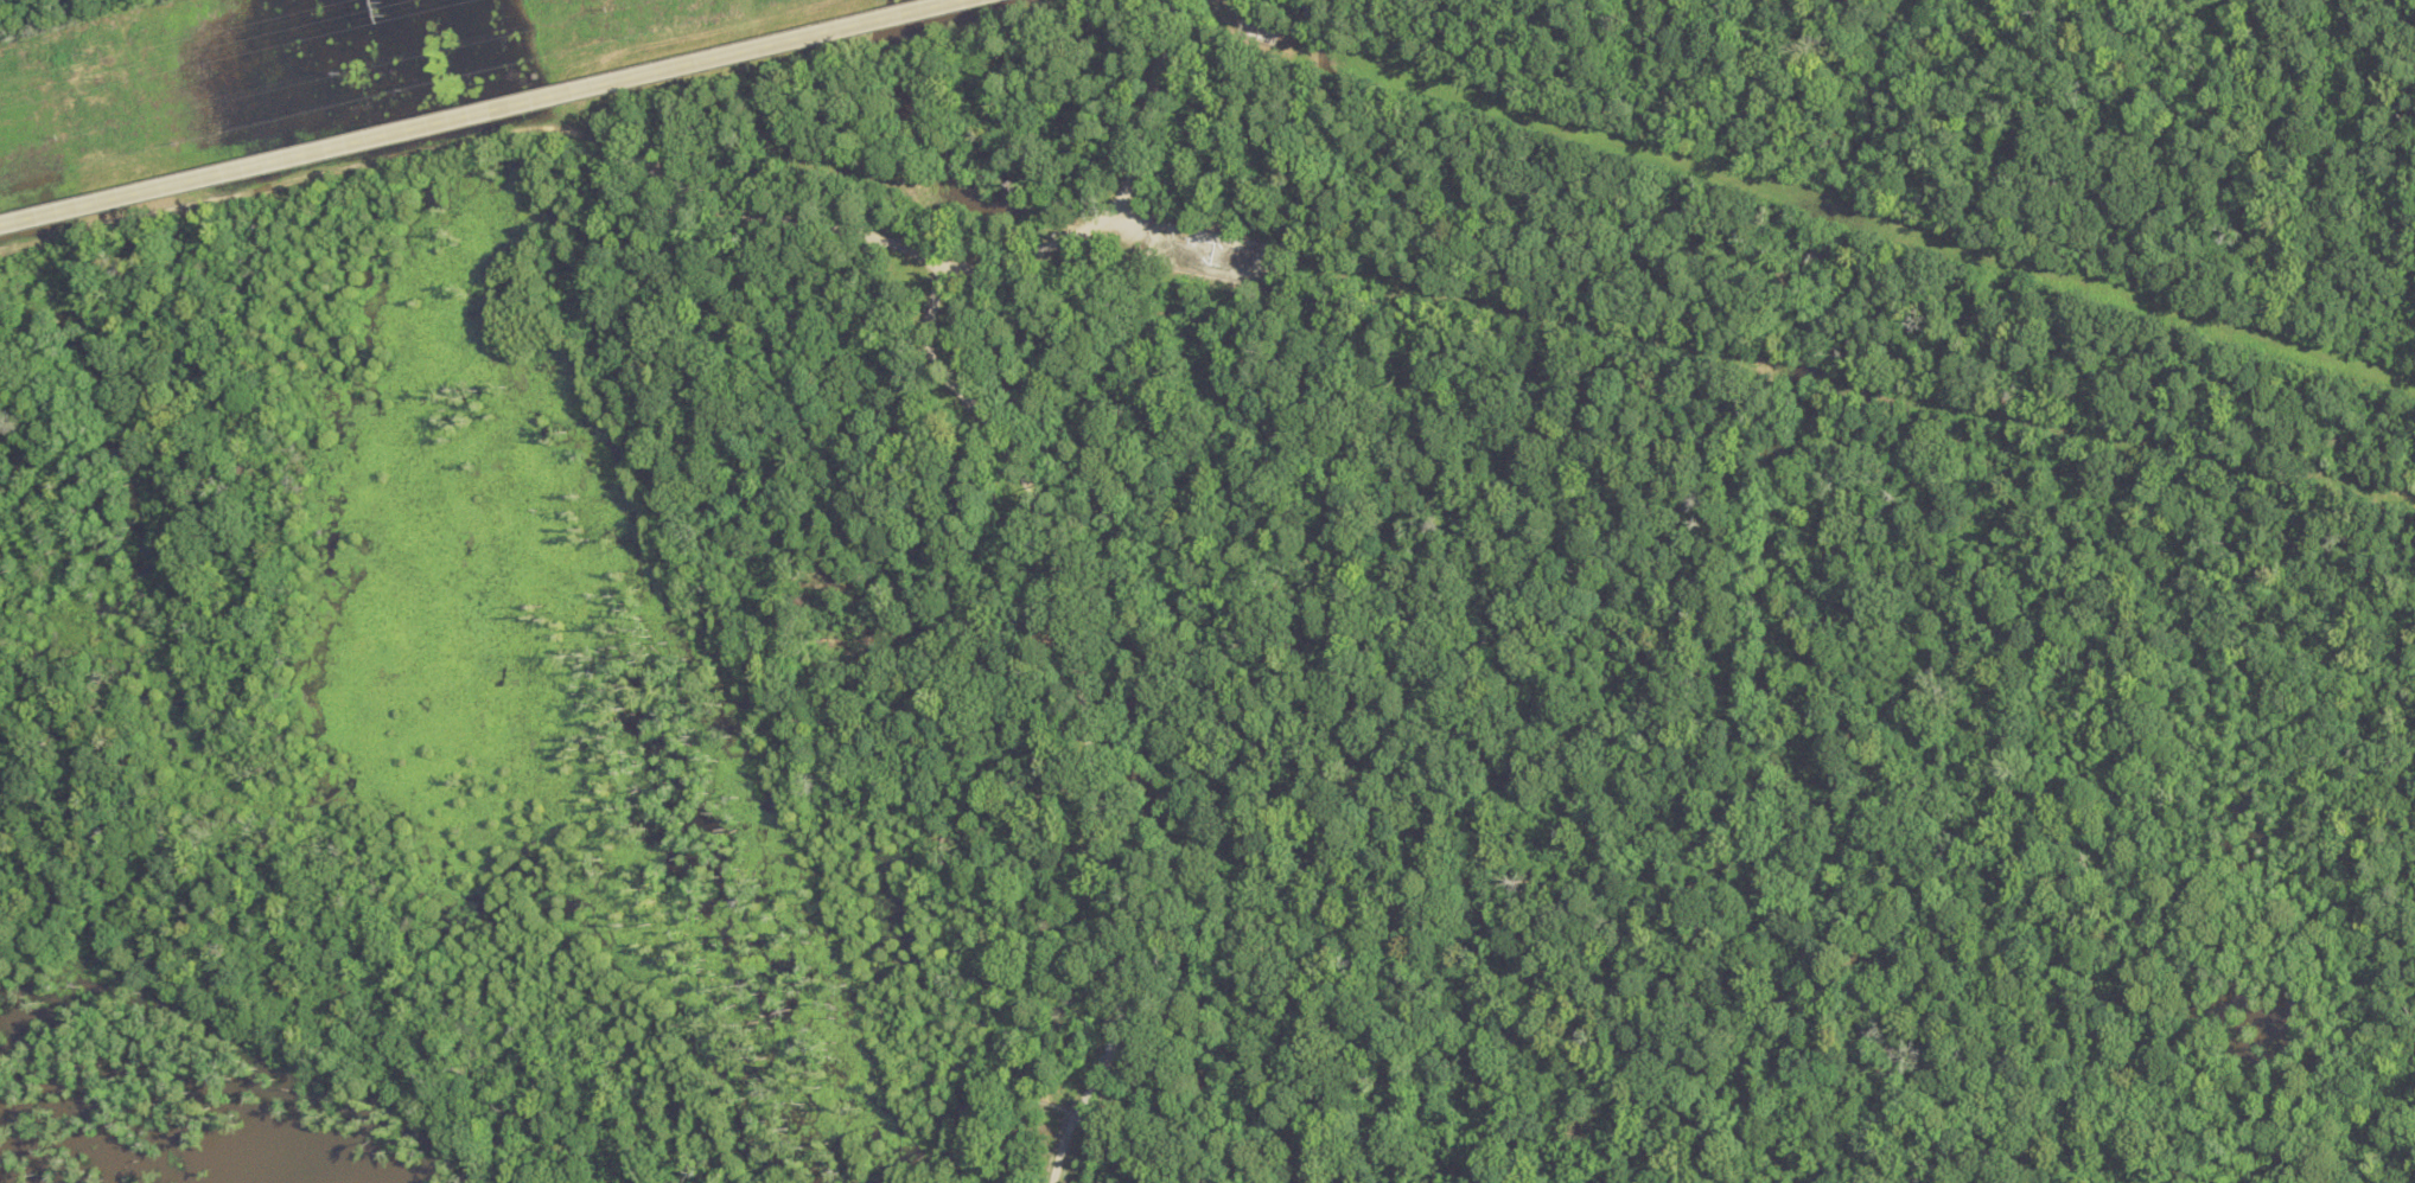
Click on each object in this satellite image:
power tower: (380, 9)
road: (483, 113)
road: (1043, 522)

